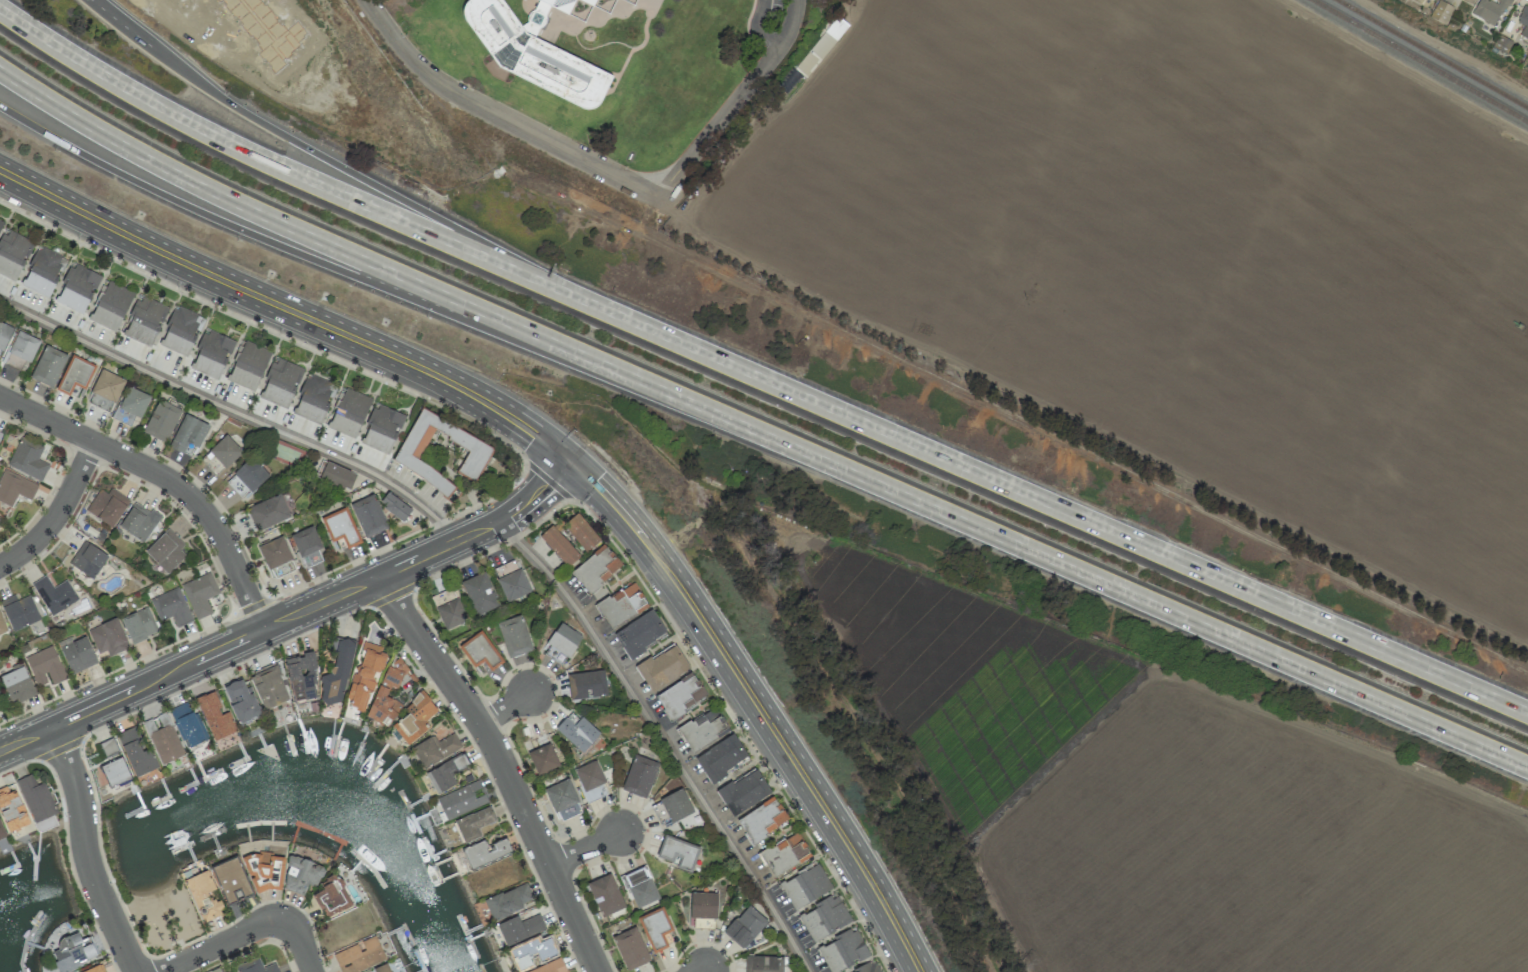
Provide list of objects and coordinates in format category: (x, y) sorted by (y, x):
building: (1471, 1)
building: (632, 2)
building: (1490, 10)
building: (1441, 12)
building: (1524, 21)
road: (758, 28)
building: (265, 30)
building: (822, 46)
building: (537, 50)
railway: (1433, 53)
railway: (1420, 61)
road: (735, 102)
road: (498, 115)
road: (313, 151)
road: (266, 161)
building: (0, 223)
road: (245, 231)
building: (13, 254)
crop: (1172, 263)
building: (44, 271)
building: (77, 288)
building: (19, 293)
building: (111, 306)
road: (288, 314)
building: (144, 322)
building: (181, 331)
building: (4, 336)
building: (21, 350)
building: (212, 354)
building: (48, 366)
building: (249, 366)
building: (75, 375)
building: (281, 383)
building: (106, 388)
building: (314, 398)
building: (131, 406)
road: (235, 410)
building: (349, 413)
building: (161, 421)
building: (382, 429)
road: (757, 432)
building: (189, 433)
building: (0, 434)
building: (225, 451)
building: (408, 456)
building: (28, 459)
traffic signals: (572, 461)
building: (337, 476)
road: (164, 478)
building: (247, 478)
building: (15, 488)
road: (1037, 500)
building: (395, 506)
building: (269, 512)
road: (60, 516)
building: (369, 516)
building: (139, 522)
building: (341, 528)
road: (481, 529)
building: (581, 532)
building: (308, 546)
building: (559, 546)
building: (166, 551)
building: (276, 557)
building: (88, 559)
building: (596, 568)
building: (511, 580)
building: (54, 594)
building: (200, 594)
building: (480, 594)
building: (622, 605)
building: (171, 607)
building: (449, 608)
building: (19, 611)
building: (139, 625)
building: (2, 626)
building: (640, 633)
building: (514, 636)
building: (108, 637)
building: (561, 644)
building: (480, 651)
building: (77, 654)
road: (188, 663)
building: (45, 666)
building: (663, 667)
building: (338, 673)
building: (366, 674)
building: (302, 677)
building: (17, 684)
building: (587, 685)
building: (269, 687)
building: (381, 693)
building: (681, 695)
building: (241, 701)
building: (0, 702)
road: (759, 706)
road: (507, 709)
building: (215, 716)
building: (415, 718)
building: (187, 724)
building: (578, 733)
road: (664, 739)
building: (164, 743)
building: (435, 749)
building: (136, 752)
building: (542, 754)
building: (721, 758)
road: (505, 765)
building: (115, 772)
building: (445, 773)
building: (639, 776)
building: (590, 780)
building: (743, 792)
building: (561, 795)
building: (462, 800)
building: (37, 802)
crop: (1179, 802)
building: (672, 807)
building: (11, 809)
building: (763, 819)
building: (474, 823)
building: (2, 831)
road: (588, 849)
road: (88, 851)
building: (485, 852)
building: (678, 853)
building: (785, 854)
building: (266, 872)
building: (301, 875)
building: (232, 879)
building: (805, 886)
building: (640, 887)
building: (203, 895)
building: (606, 895)
building: (332, 897)
building: (509, 901)
building: (703, 905)
building: (824, 918)
building: (746, 926)
building: (520, 928)
building: (656, 929)
road: (254, 930)
building: (631, 948)
building: (843, 950)
building: (532, 952)
building: (72, 953)
building: (359, 955)
building: (764, 964)
building: (256, 966)
building: (551, 967)
building: (382, 968)
building: (868, 968)
building: (94, 969)

